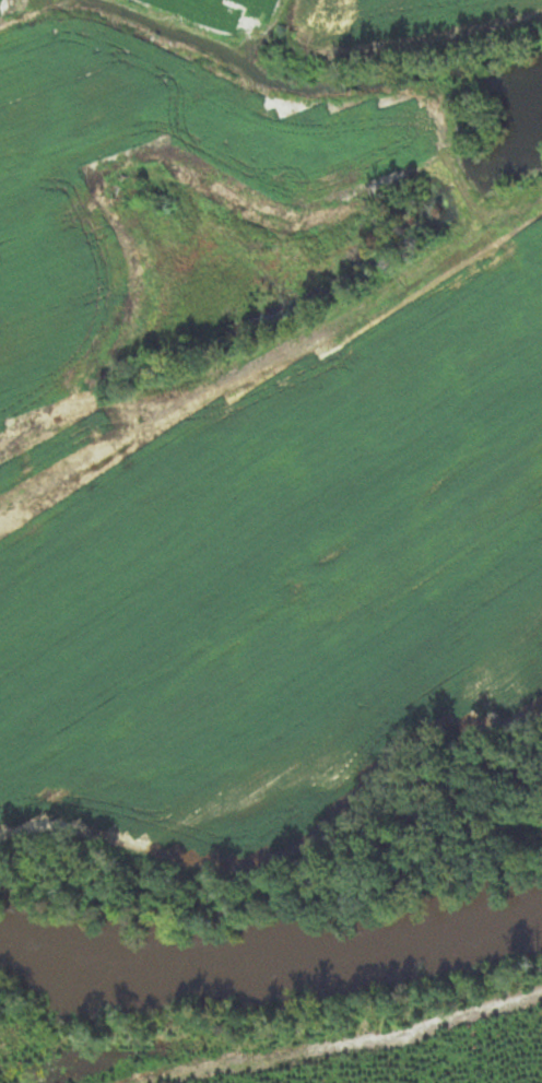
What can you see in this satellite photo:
river: (273, 954)

